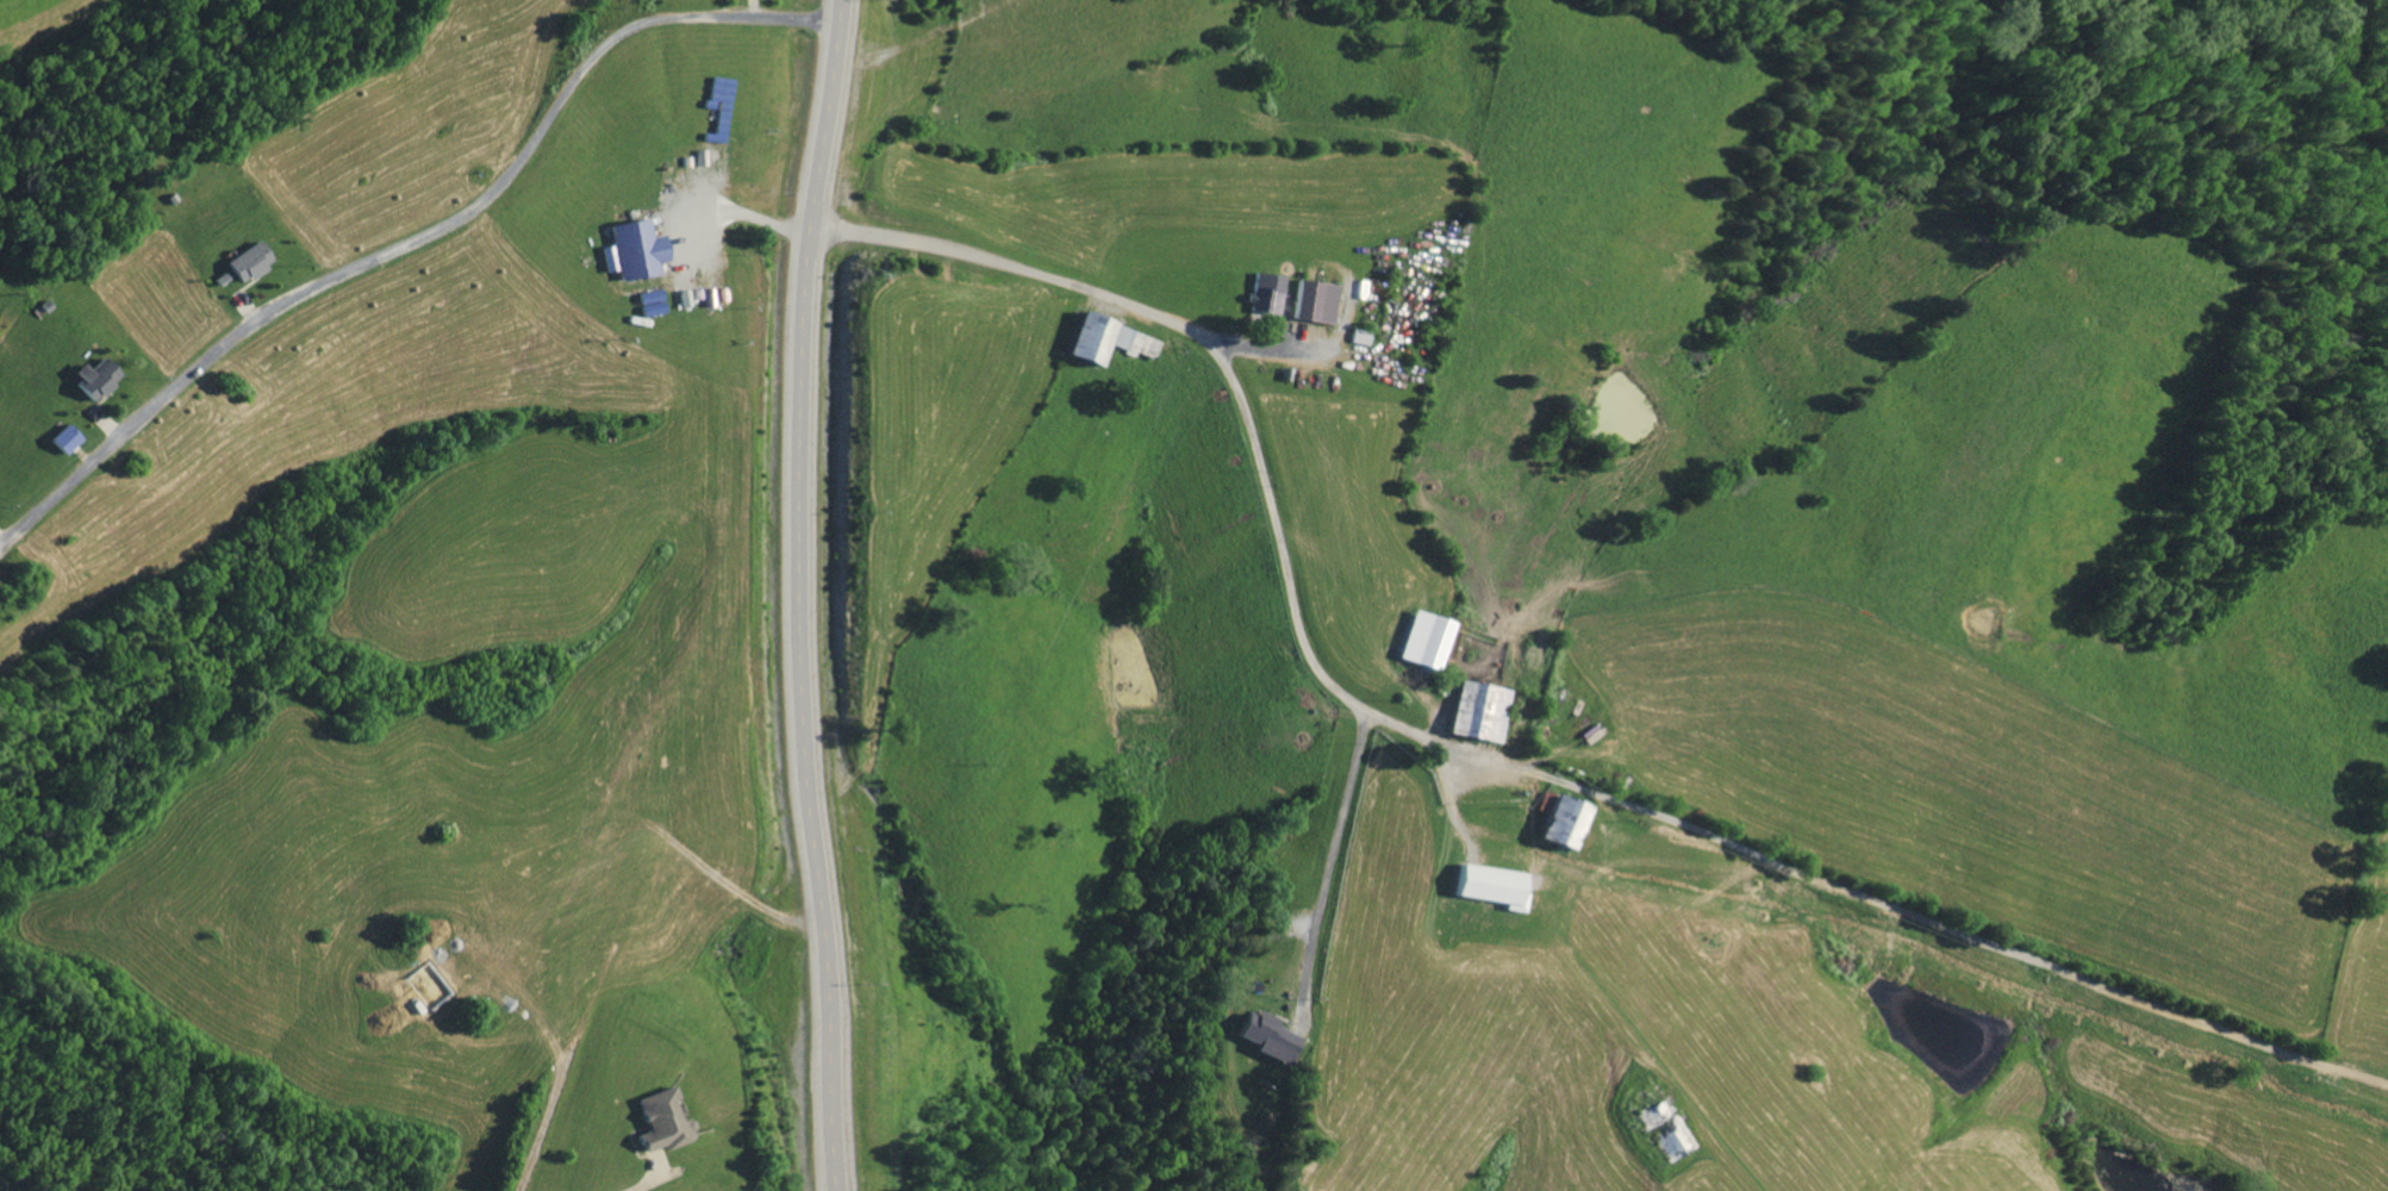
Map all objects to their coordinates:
building: (631, 248)
building: (249, 260)
building: (1261, 291)
building: (1310, 299)
building: (649, 301)
building: (1101, 337)
building: (92, 375)
road: (1212, 384)
building: (61, 437)
road: (804, 594)
building: (1422, 637)
building: (1474, 709)
building: (1553, 817)
road: (1329, 867)
building: (1489, 884)
building: (1266, 1034)
building: (660, 1120)

